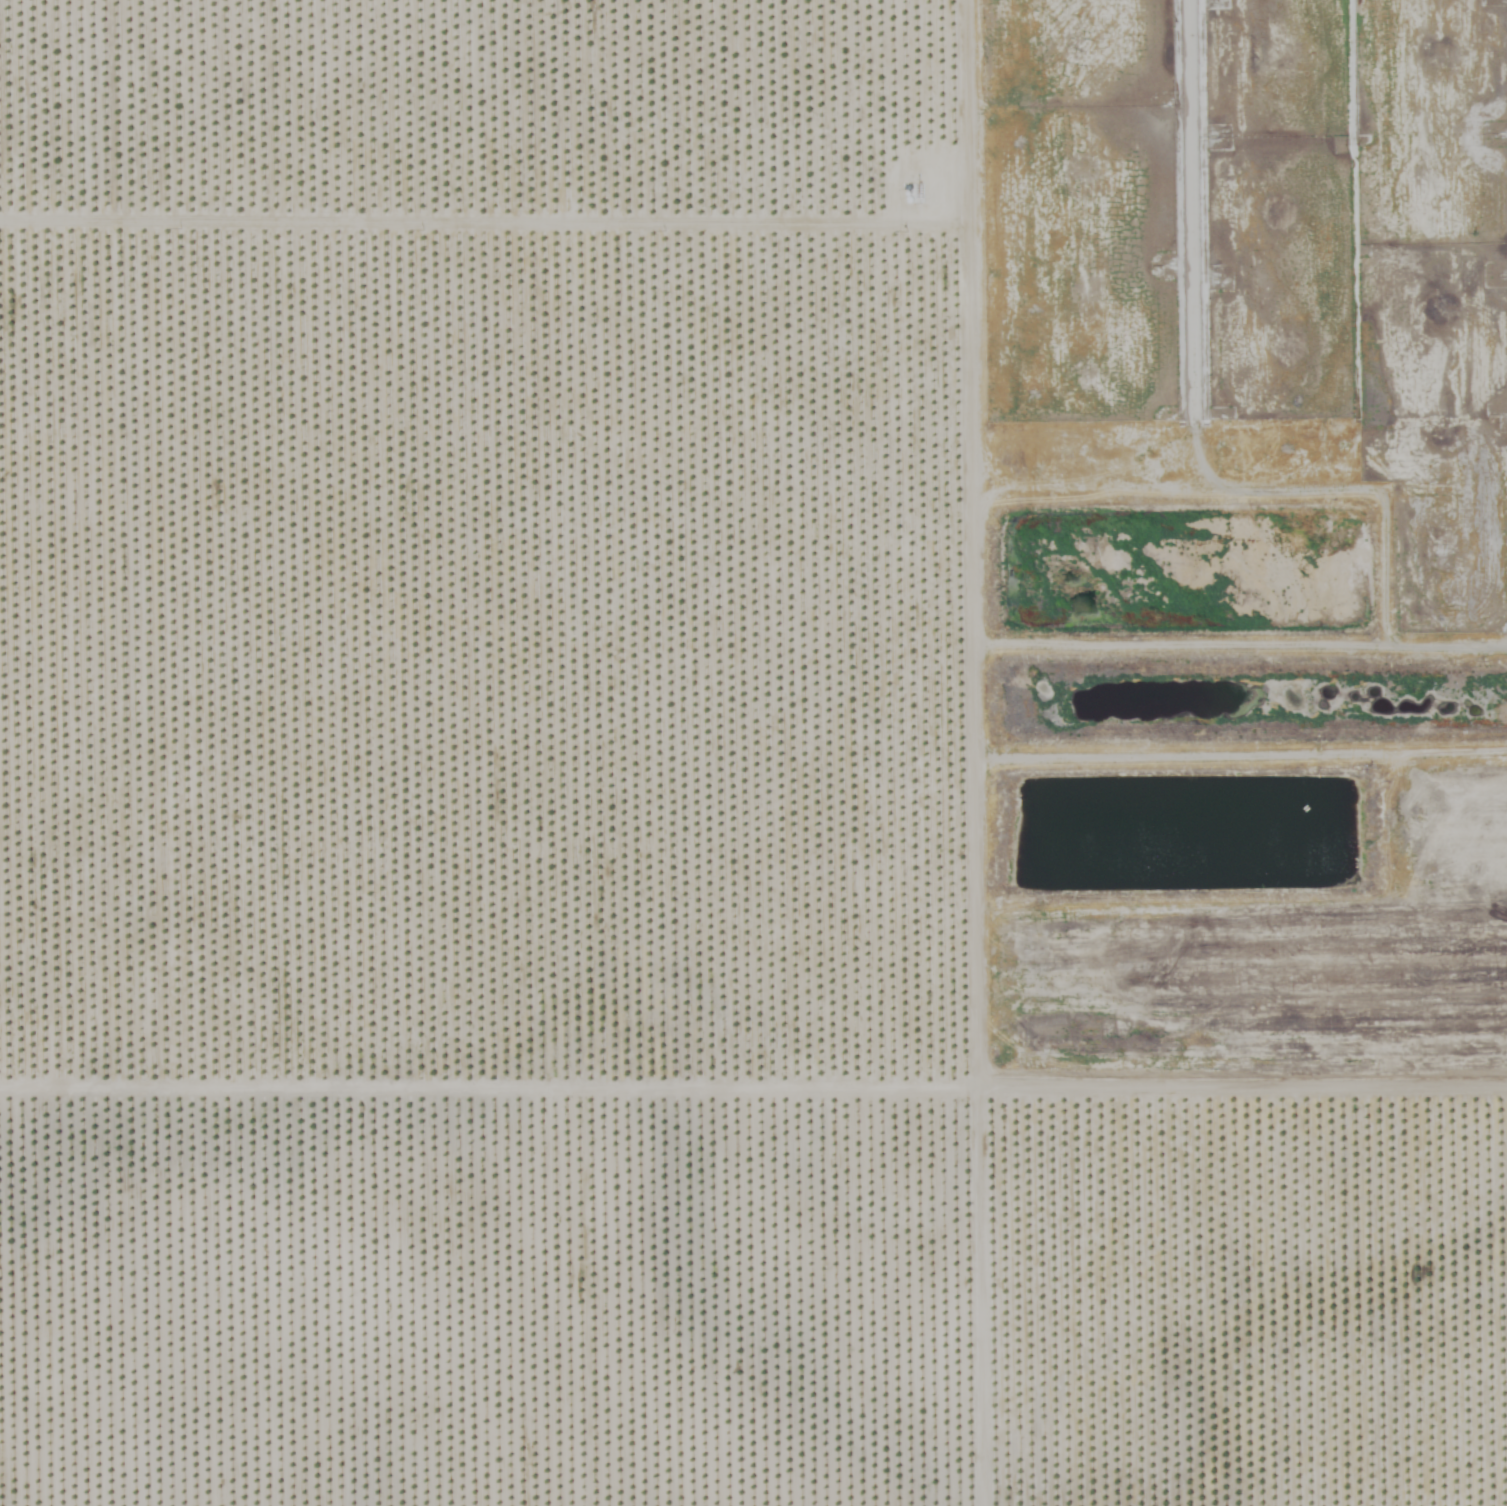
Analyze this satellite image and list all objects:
crop: (437, 709)

